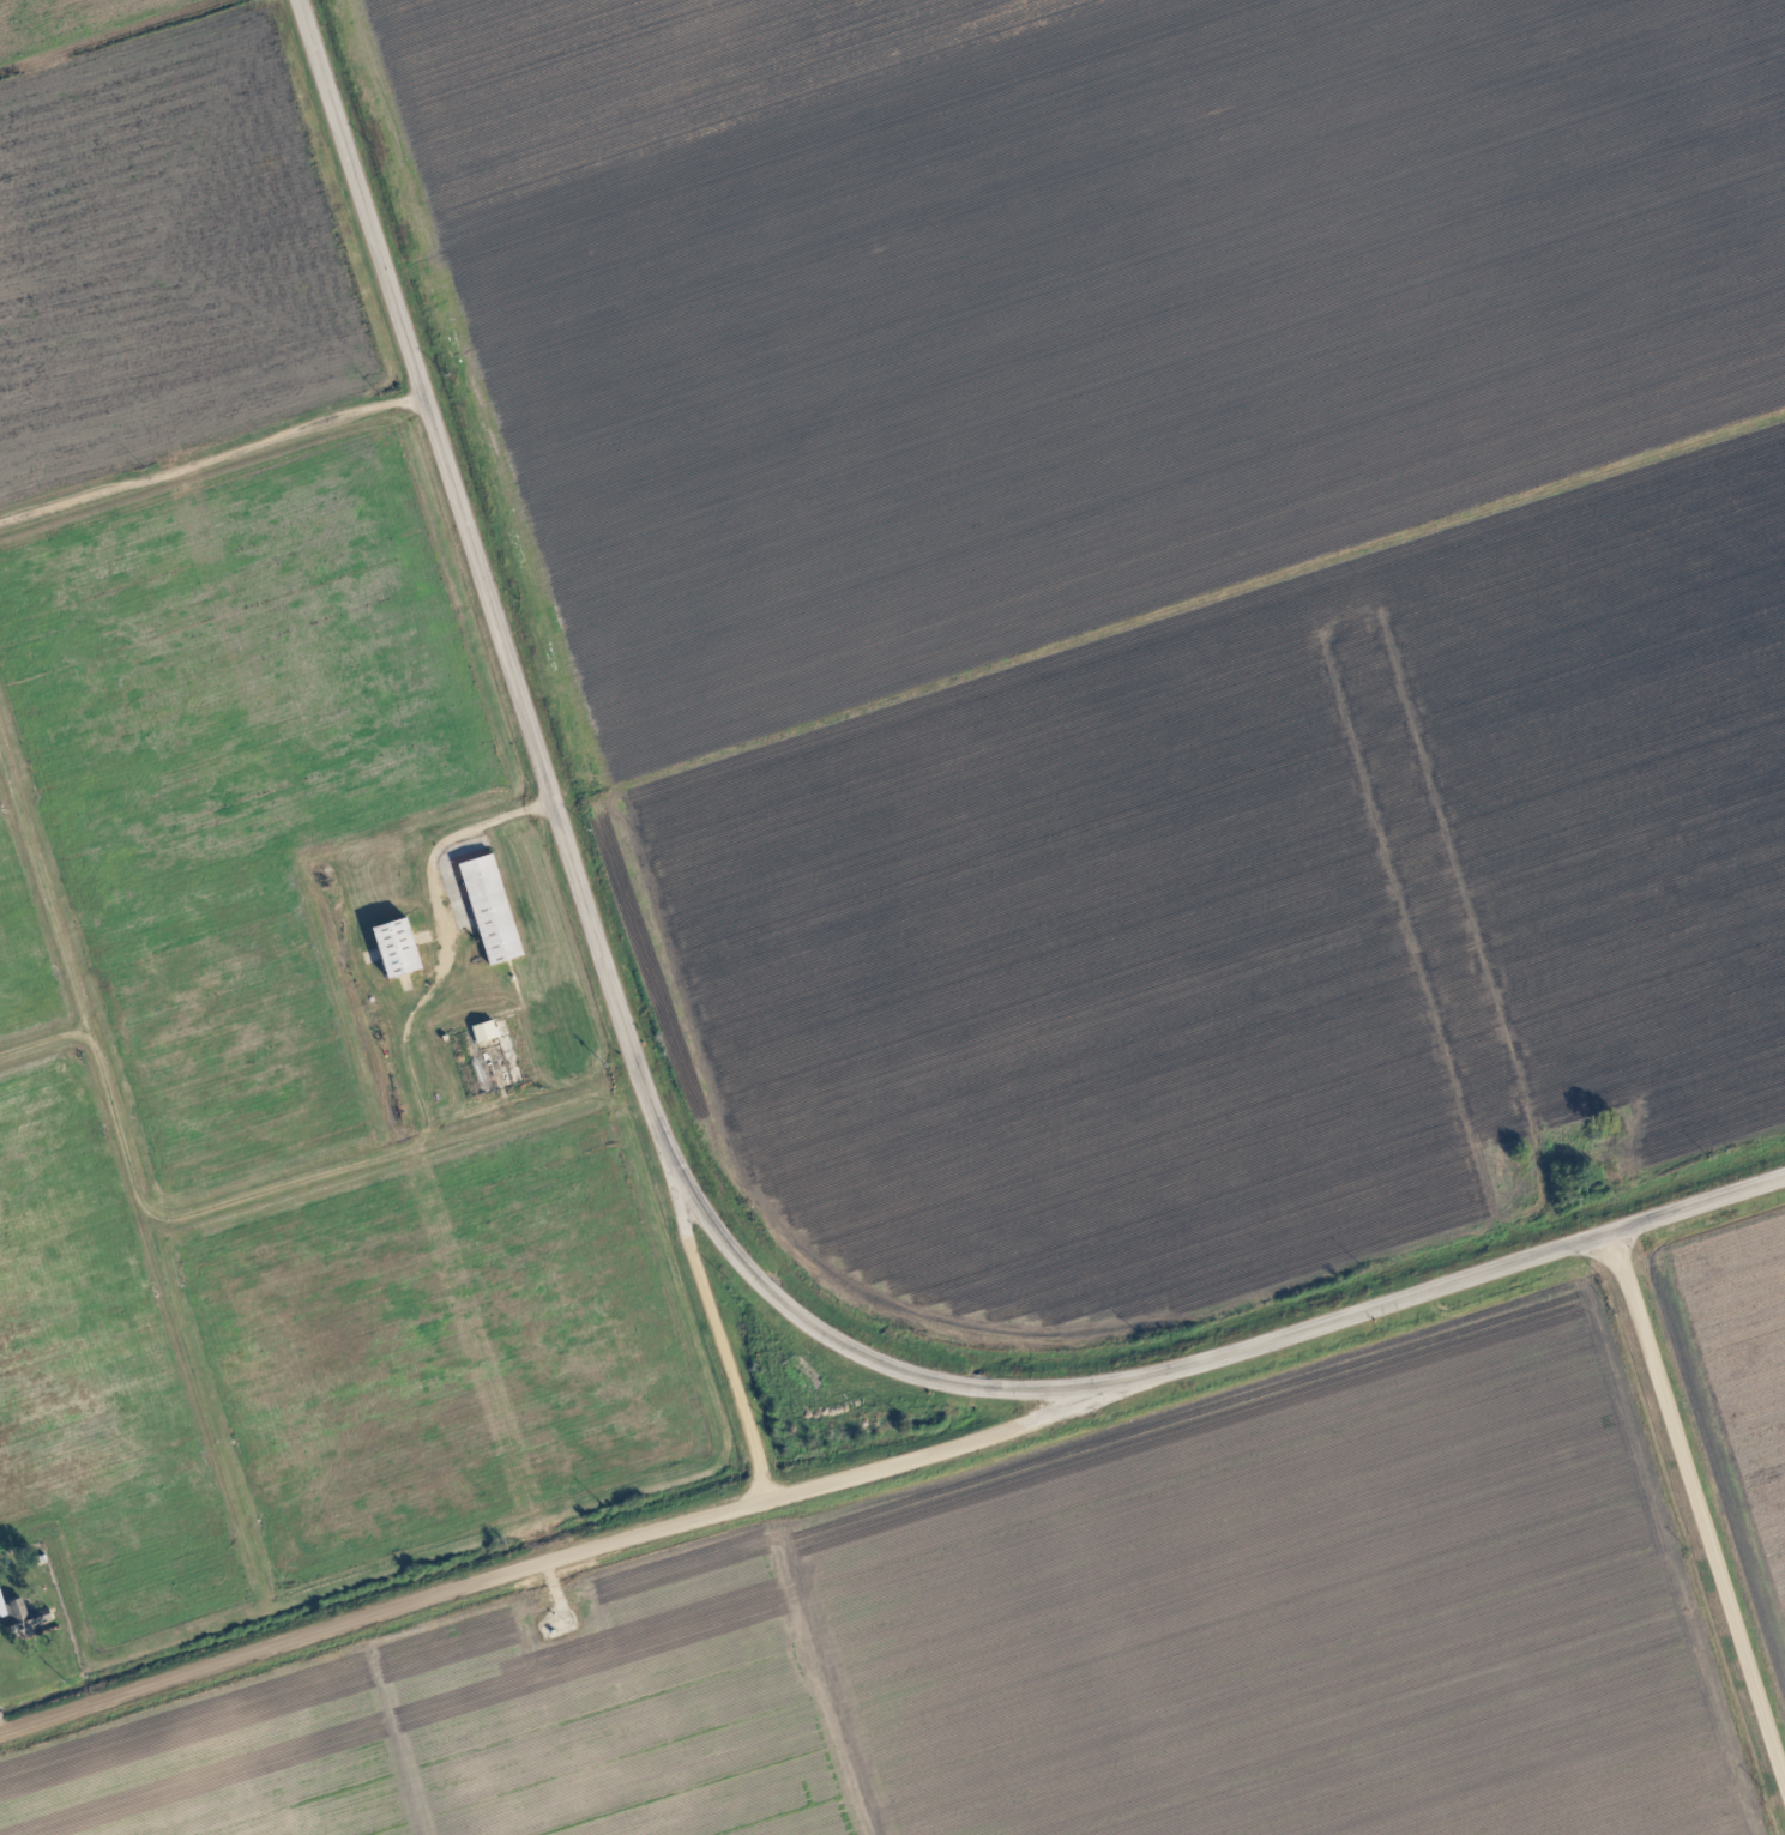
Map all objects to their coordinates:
road: (213, 470)
building: (494, 910)
road: (460, 941)
building: (399, 948)
building: (487, 1032)
road: (675, 1169)
road: (719, 1328)
road: (928, 1451)
road: (1701, 1499)
building: (2, 1600)
road: (386, 1619)
road: (4, 1724)

